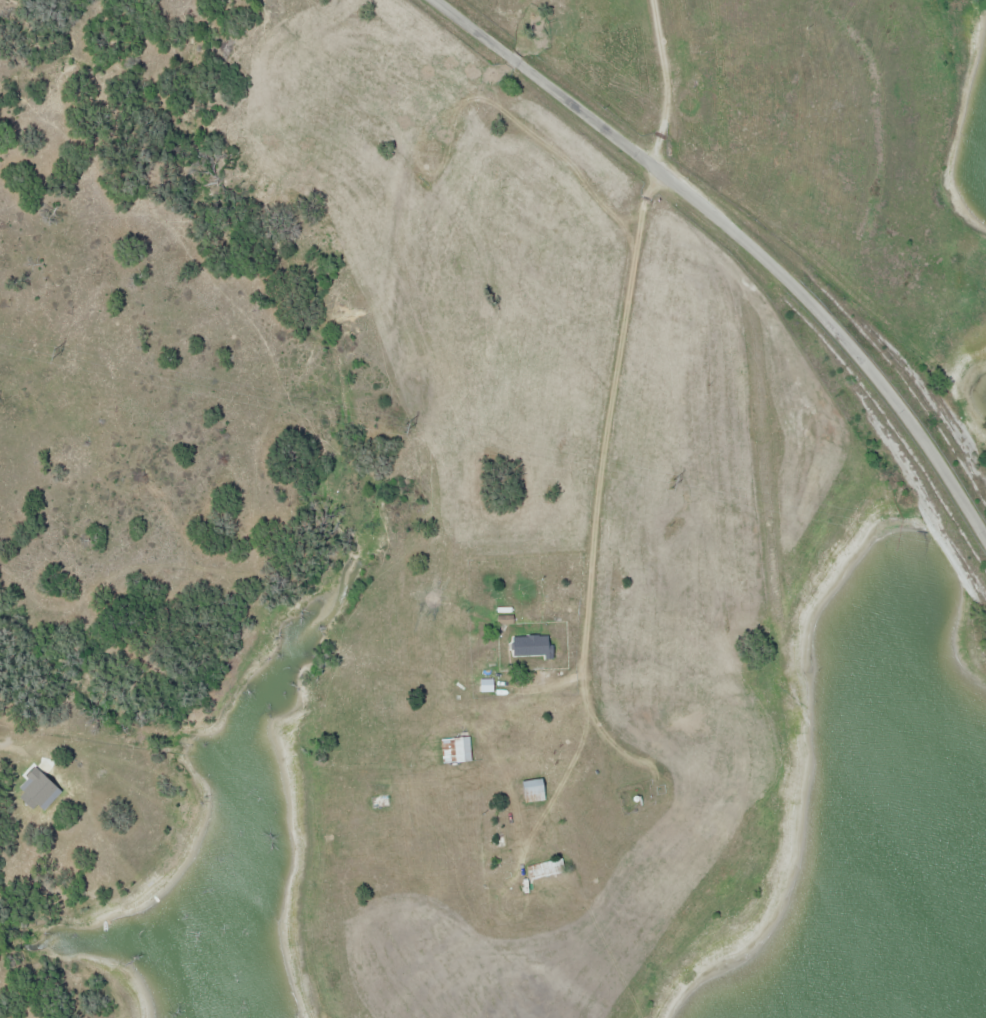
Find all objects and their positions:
road: (744, 234)
power tower: (52, 353)
power tower: (401, 426)
road: (605, 463)
power tower: (670, 482)
building: (524, 644)
building: (483, 684)
building: (674, 719)
road: (600, 733)
building: (460, 748)
building: (529, 790)
building: (376, 801)
building: (542, 868)

